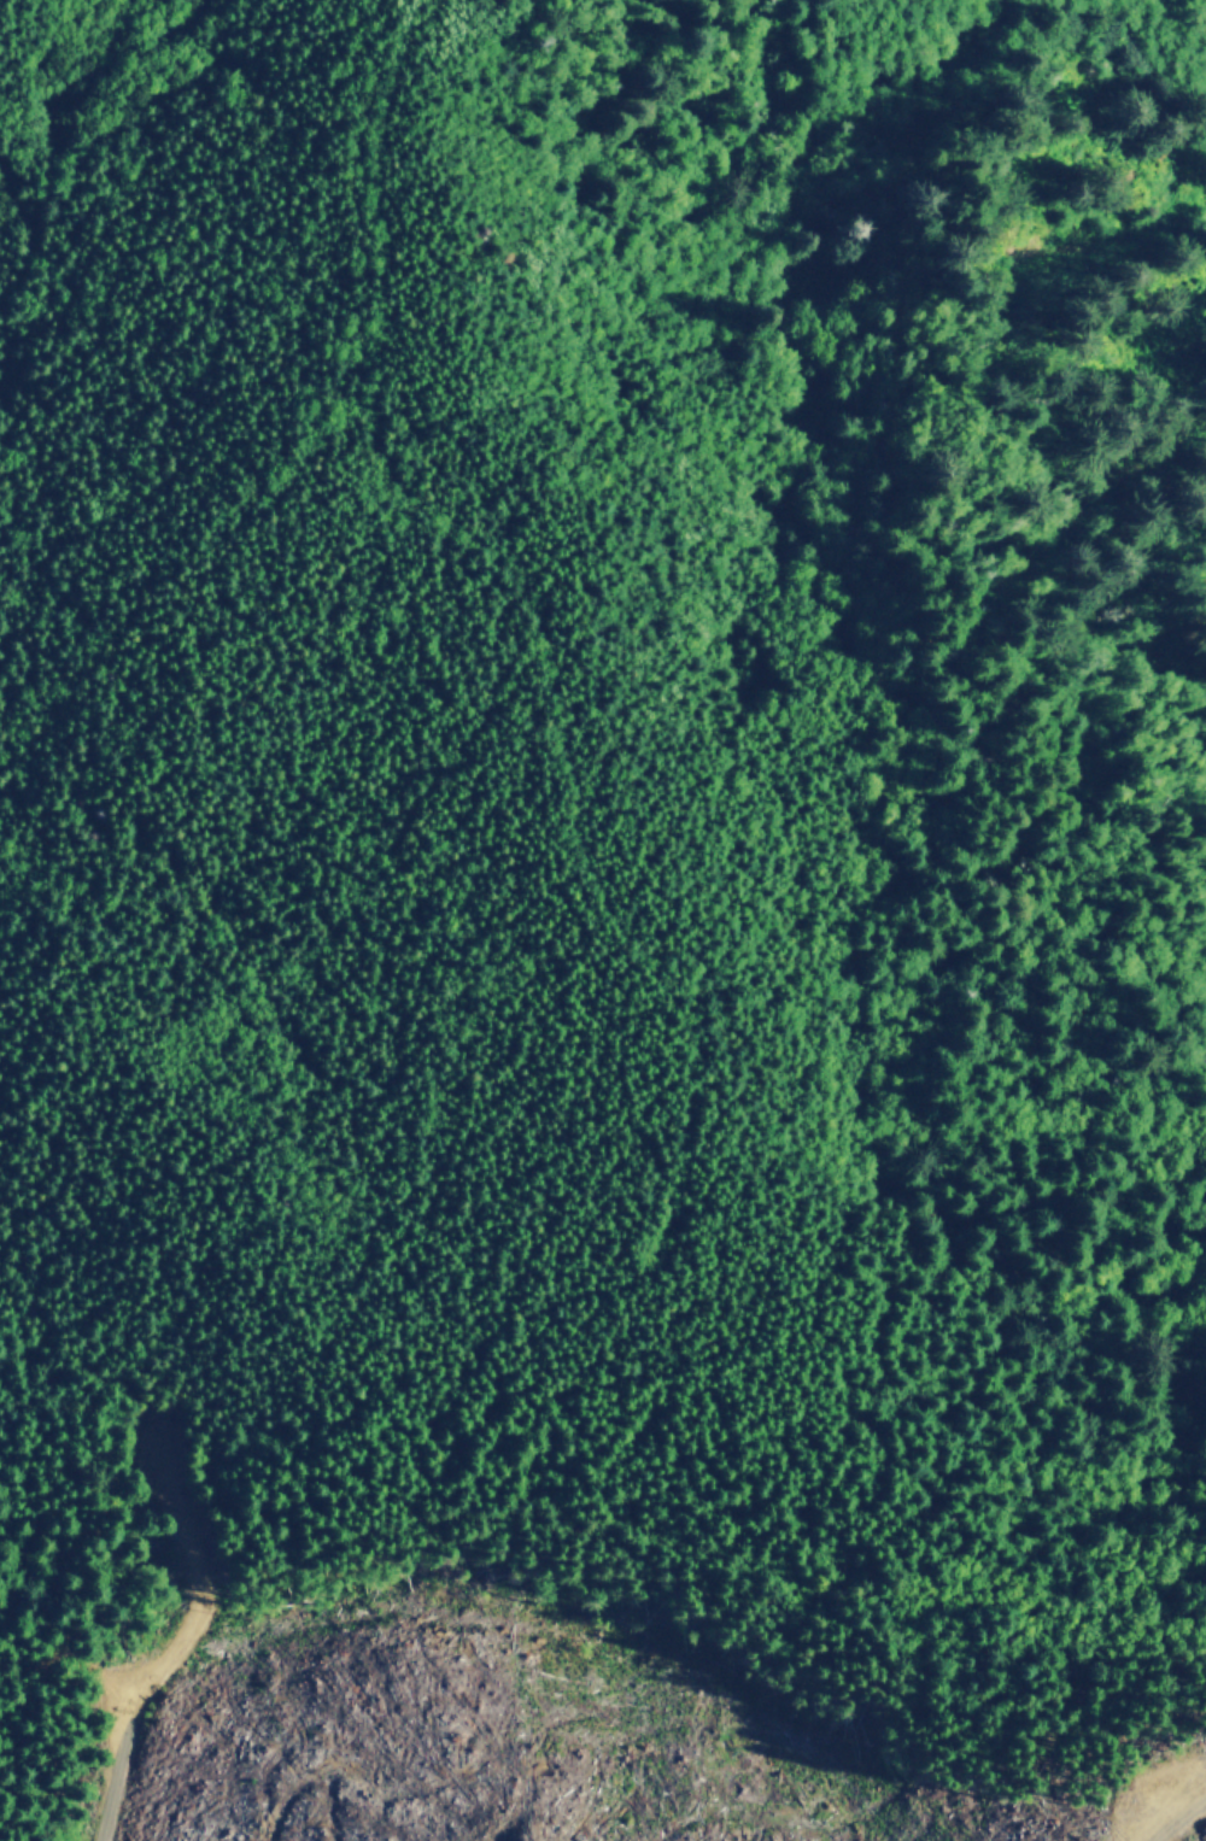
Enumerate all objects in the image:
road: (112, 70)
road: (49, 215)
road: (119, 1638)

